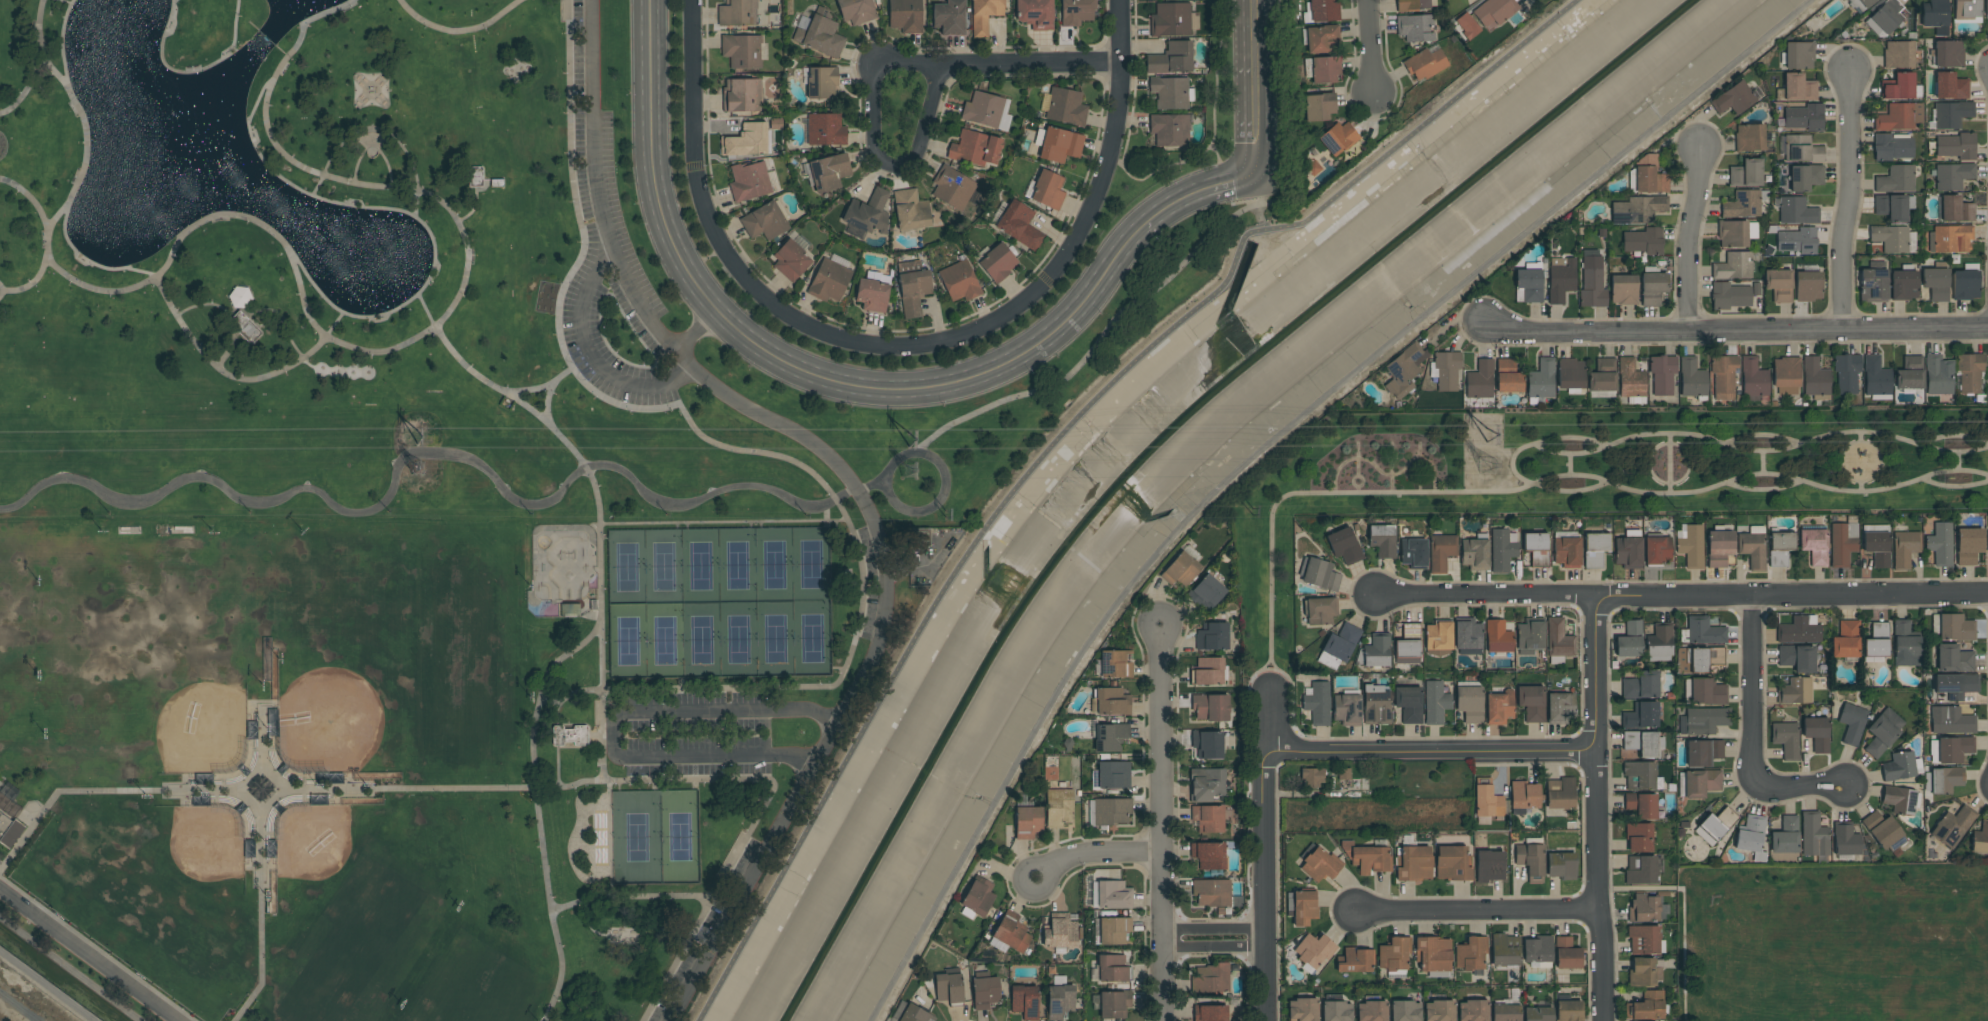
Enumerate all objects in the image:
road: (177, 1)
road: (68, 2)
building: (1861, 4)
building: (1412, 5)
building: (1987, 9)
building: (1324, 10)
building: (857, 11)
building: (1967, 11)
building: (1076, 12)
building: (1494, 12)
building: (734, 13)
building: (1035, 14)
building: (906, 15)
building: (985, 15)
building: (1936, 16)
building: (949, 17)
building: (1886, 18)
building: (1171, 20)
building: (1415, 27)
dam: (256, 28)
road: (1253, 29)
road: (458, 31)
building: (821, 34)
building: (1322, 39)
dam: (275, 46)
road: (44, 48)
road: (1372, 48)
building: (742, 51)
building: (1948, 54)
building: (1798, 55)
building: (1899, 55)
building: (1171, 58)
road: (879, 60)
building: (1426, 63)
road: (1029, 65)
building: (1325, 69)
road: (195, 71)
building: (822, 82)
road: (31, 84)
building: (1950, 86)
building: (1901, 87)
building: (1799, 88)
building: (1170, 92)
building: (742, 95)
building: (1733, 98)
building: (1066, 106)
building: (1320, 107)
building: (983, 109)
building: (1951, 114)
road: (1254, 117)
building: (1805, 117)
building: (1899, 117)
building: (826, 129)
building: (1170, 129)
road: (382, 131)
building: (1338, 138)
building: (1750, 138)
building: (746, 140)
building: (1060, 145)
building: (1893, 146)
building: (1957, 146)
road: (376, 147)
building: (976, 148)
building: (1800, 149)
building: (1313, 168)
road: (83, 170)
building: (829, 172)
building: (1747, 173)
building: (475, 176)
building: (1953, 176)
building: (1805, 177)
building: (1896, 179)
building: (1651, 180)
building: (751, 181)
parking lot: (604, 183)
building: (953, 187)
building: (1048, 190)
road: (1194, 192)
road: (1259, 202)
road: (1848, 202)
building: (1745, 203)
road: (472, 206)
building: (1894, 207)
building: (1638, 209)
building: (1955, 209)
building: (911, 210)
building: (1796, 210)
building: (868, 213)
building: (765, 221)
building: (1020, 225)
building: (1736, 233)
road: (434, 236)
road: (1689, 239)
building: (1894, 239)
building: (1951, 239)
building: (1644, 241)
building: (1798, 241)
road: (470, 248)
road: (47, 261)
building: (791, 261)
building: (998, 263)
road: (56, 266)
building: (1733, 266)
building: (1561, 279)
building: (960, 280)
building: (829, 281)
building: (1937, 282)
building: (1966, 282)
building: (1532, 283)
building: (1874, 283)
building: (1904, 284)
building: (1592, 285)
building: (1779, 285)
building: (1653, 286)
building: (1808, 286)
building: (913, 287)
building: (1624, 289)
road: (2, 291)
building: (874, 291)
building: (1729, 296)
building: (240, 297)
road: (231, 314)
road: (284, 319)
building: (245, 327)
road: (696, 331)
road: (1737, 332)
parking lot: (603, 345)
road: (897, 348)
road: (590, 356)
road: (790, 365)
building: (1404, 370)
building: (1446, 370)
building: (1970, 372)
building: (1847, 373)
building: (1910, 373)
building: (1663, 374)
building: (1786, 374)
building: (1571, 375)
building: (1939, 375)
building: (1508, 376)
building: (1603, 376)
building: (1724, 376)
road: (237, 377)
building: (1877, 378)
building: (1693, 379)
building: (1754, 379)
building: (1816, 379)
building: (1987, 379)
building: (1541, 380)
building: (1480, 382)
building: (1631, 382)
road: (552, 384)
road: (527, 391)
building: (1986, 395)
power tower: (1493, 435)
road: (1060, 436)
road: (1762, 437)
road: (1954, 437)
power tower: (422, 438)
road: (1862, 439)
power tower: (917, 442)
road: (1392, 447)
road: (1388, 453)
road: (1759, 453)
road: (751, 454)
road: (1420, 454)
road: (1359, 459)
road: (1762, 462)
road: (1957, 462)
road: (1670, 464)
road: (1512, 465)
road: (1569, 465)
road: (1418, 469)
road: (1881, 469)
power tower: (1489, 470)
power tower: (422, 471)
road: (1387, 474)
power tower: (908, 476)
road: (1392, 477)
road: (1356, 478)
park: (1591, 478)
road: (1538, 480)
road: (1420, 485)
road: (1670, 485)
road: (852, 486)
road: (1861, 488)
road: (1358, 490)
road: (1952, 490)
road: (642, 492)
road: (1762, 492)
road: (597, 501)
road: (934, 505)
park: (421, 520)
building: (919, 536)
building: (1382, 540)
building: (1987, 540)
building: (1842, 543)
building: (1940, 544)
building: (1344, 545)
building: (1690, 545)
building: (1814, 545)
building: (1968, 545)
building: (1719, 547)
building: (1752, 547)
building: (1536, 548)
building: (1780, 548)
building: (1877, 548)
building: (1904, 548)
building: (1502, 549)
building: (1595, 549)
building: (1657, 549)
building: (1566, 551)
building: (1413, 552)
building: (1441, 552)
building: (1628, 552)
building: (1474, 554)
road: (907, 563)
building: (1181, 569)
park: (562, 571)
building: (1320, 575)
parking lot: (869, 584)
building: (1206, 592)
road: (1681, 599)
park: (720, 604)
building: (1320, 610)
building: (1955, 627)
building: (1799, 630)
park: (11, 631)
building: (1703, 631)
building: (1529, 636)
building: (1212, 637)
building: (1467, 637)
building: (1497, 637)
building: (1438, 639)
building: (1558, 639)
building: (1629, 640)
building: (1845, 640)
building: (1341, 642)
building: (1876, 643)
building: (1408, 644)
building: (1659, 644)
building: (1904, 645)
building: (1376, 652)
park: (396, 657)
building: (1797, 658)
building: (1953, 658)
building: (1716, 659)
building: (1697, 660)
building: (1115, 664)
building: (1208, 671)
park: (156, 682)
building: (1955, 685)
building: (1642, 686)
building: (1795, 691)
building: (1706, 692)
road: (1752, 692)
building: (1112, 701)
building: (1435, 702)
building: (1531, 702)
building: (1317, 703)
building: (1408, 703)
building: (1376, 704)
building: (1469, 704)
building: (1211, 707)
building: (1559, 707)
building: (1498, 708)
building: (1346, 709)
road: (556, 712)
building: (1641, 716)
building: (1701, 721)
building: (1951, 721)
road: (613, 722)
building: (1851, 723)
building: (1882, 732)
building: (1816, 733)
parking lot: (697, 734)
building: (570, 735)
building: (1110, 737)
building: (1785, 739)
building: (1641, 743)
building: (1209, 744)
building: (1949, 749)
building: (1702, 752)
road: (1433, 753)
road: (556, 766)
building: (1898, 767)
building: (1111, 775)
building: (1640, 775)
building: (1311, 777)
building: (1946, 779)
building: (1697, 783)
building: (1206, 784)
road: (1805, 787)
road: (503, 791)
building: (1560, 793)
building: (1523, 795)
building: (1898, 800)
building: (1487, 802)
building: (1059, 804)
building: (1640, 806)
road: (1597, 810)
building: (1111, 811)
road: (537, 813)
building: (1208, 818)
building: (1028, 822)
road: (1161, 823)
building: (1715, 825)
building: (1951, 826)
building: (9, 830)
building: (1883, 831)
building: (1750, 833)
building: (1813, 835)
building: (1785, 836)
park: (636, 837)
park: (679, 837)
building: (1638, 837)
building: (1980, 839)
building: (1845, 841)
road: (1268, 854)
road: (1094, 855)
building: (1209, 855)
building: (1367, 858)
building: (1530, 858)
road: (2, 863)
building: (1412, 863)
building: (1451, 864)
building: (1318, 865)
building: (1489, 866)
building: (1561, 866)
road: (262, 868)
building: (1640, 870)
park: (163, 880)
building: (1212, 894)
building: (1114, 895)
road: (644, 897)
building: (977, 898)
park: (364, 900)
building: (1304, 908)
building: (1643, 908)
road: (1477, 910)
road: (587, 922)
parking lot: (702, 931)
building: (1112, 931)
building: (1060, 932)
building: (1012, 933)
building: (1643, 939)
road: (1215, 940)
road: (99, 947)
building: (1313, 950)
building: (1504, 950)
building: (1537, 951)
road: (1684, 952)
building: (1432, 954)
building: (1469, 954)
building: (1566, 954)
building: (1392, 955)
road: (86, 957)
building: (1355, 961)
building: (1113, 969)
building: (1644, 972)
building: (1211, 979)
building: (949, 987)
building: (985, 991)
building: (1060, 998)
building: (1025, 1001)
building: (1113, 1004)
building: (1646, 1006)
railway: (18, 1007)
building: (1302, 1010)
building: (1438, 1010)
building: (1472, 1010)
building: (1568, 1010)
building: (1336, 1011)
building: (1371, 1011)
building: (1405, 1011)
building: (1505, 1012)
building: (910, 1013)
building: (1210, 1013)
building: (1537, 1014)

